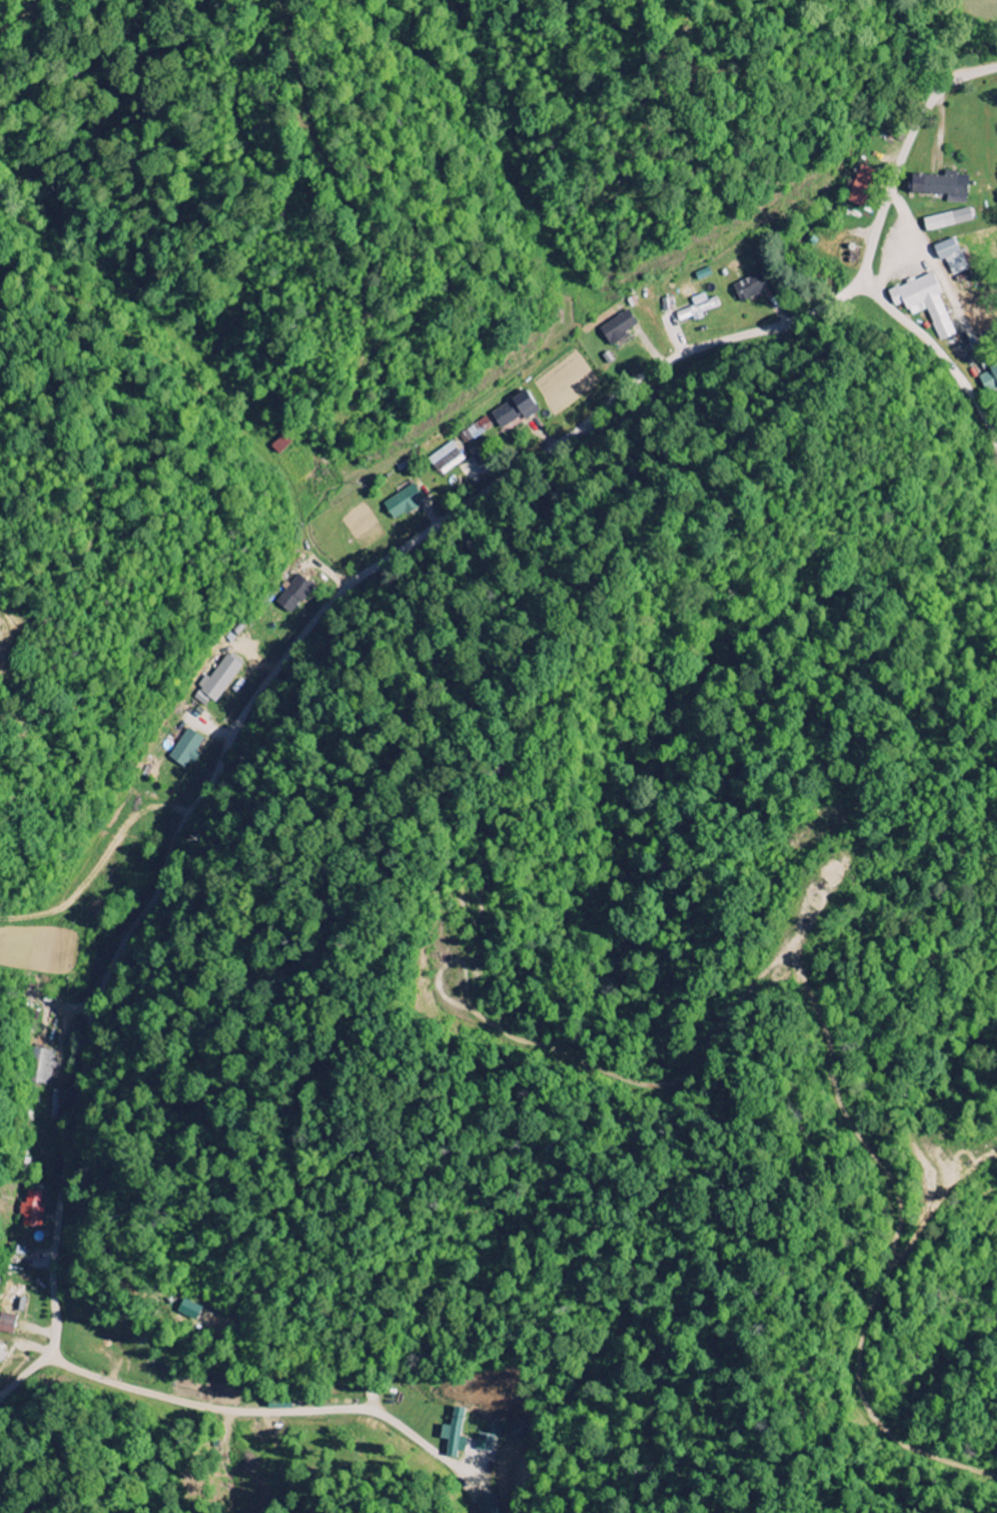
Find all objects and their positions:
building: (938, 185)
building: (861, 187)
building: (947, 220)
building: (952, 257)
building: (750, 287)
building: (924, 303)
building: (697, 309)
building: (619, 327)
road: (935, 352)
building: (994, 375)
building: (513, 411)
building: (479, 429)
building: (446, 459)
building: (402, 503)
building: (293, 596)
road: (332, 596)
building: (218, 680)
building: (186, 750)
building: (43, 1068)
building: (33, 1215)
building: (11, 1298)
building: (188, 1310)
building: (7, 1323)
building: (454, 1434)
building: (485, 1504)

